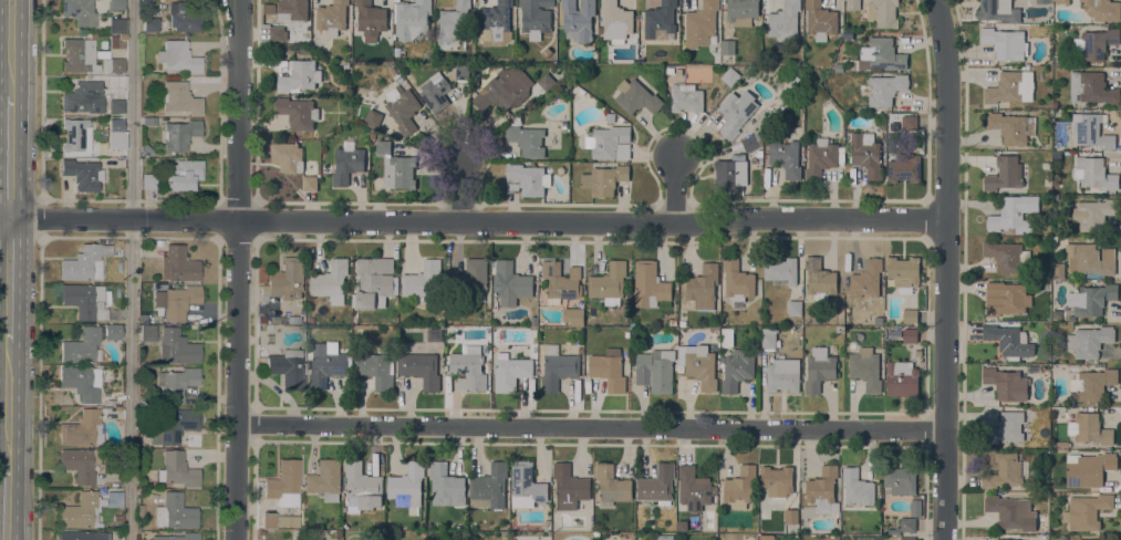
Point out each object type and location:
building: (1044, 1)
building: (1061, 1)
building: (116, 4)
building: (853, 4)
building: (269, 8)
building: (293, 9)
building: (994, 9)
building: (147, 10)
building: (1102, 10)
building: (741, 11)
building: (79, 12)
building: (883, 12)
building: (536, 14)
building: (332, 17)
building: (183, 18)
building: (412, 18)
building: (370, 19)
building: (497, 19)
building: (578, 19)
building: (660, 20)
building: (783, 20)
building: (820, 20)
building: (615, 21)
building: (700, 23)
building: (150, 24)
building: (454, 27)
building: (277, 33)
building: (122, 38)
building: (115, 42)
building: (1004, 42)
building: (1094, 43)
building: (103, 44)
building: (727, 46)
building: (882, 54)
building: (79, 55)
building: (178, 56)
building: (113, 64)
building: (838, 66)
building: (460, 71)
building: (299, 75)
building: (409, 75)
building: (730, 75)
building: (547, 81)
building: (1010, 86)
building: (1091, 87)
building: (505, 89)
building: (886, 89)
building: (435, 92)
building: (82, 96)
building: (636, 96)
building: (685, 96)
building: (178, 97)
building: (115, 106)
road: (8, 108)
building: (402, 108)
building: (298, 112)
building: (736, 112)
building: (373, 116)
building: (610, 117)
building: (148, 122)
building: (909, 122)
building: (1013, 126)
building: (1091, 131)
building: (75, 134)
building: (178, 134)
building: (116, 137)
building: (527, 139)
building: (752, 141)
building: (610, 142)
building: (383, 146)
building: (145, 149)
building: (759, 153)
building: (866, 154)
building: (288, 156)
building: (786, 157)
building: (821, 158)
building: (347, 164)
building: (904, 167)
building: (398, 170)
building: (1093, 173)
building: (82, 174)
building: (1005, 174)
building: (183, 175)
building: (730, 175)
building: (527, 179)
building: (603, 179)
building: (147, 181)
building: (310, 183)
road: (466, 189)
road: (677, 189)
building: (1093, 212)
building: (1014, 214)
road: (473, 224)
building: (158, 243)
building: (1006, 255)
building: (1090, 258)
building: (84, 262)
building: (178, 264)
road: (129, 269)
road: (236, 269)
building: (781, 269)
road: (944, 269)
building: (1059, 269)
building: (904, 271)
building: (471, 278)
building: (819, 278)
building: (287, 279)
building: (866, 279)
road: (7, 280)
building: (510, 280)
building: (737, 280)
building: (331, 281)
building: (374, 281)
building: (422, 281)
building: (561, 281)
building: (609, 282)
building: (650, 284)
building: (703, 285)
building: (1004, 298)
building: (1091, 299)
building: (84, 301)
building: (179, 301)
building: (795, 308)
building: (573, 315)
building: (910, 315)
building: (310, 320)
building: (673, 322)
building: (682, 322)
building: (112, 332)
building: (147, 332)
building: (433, 334)
building: (910, 334)
building: (726, 336)
building: (768, 337)
building: (1008, 340)
building: (1089, 341)
building: (81, 346)
building: (177, 346)
building: (533, 349)
building: (698, 364)
building: (325, 365)
building: (558, 366)
building: (422, 367)
building: (287, 368)
building: (376, 368)
building: (468, 368)
building: (609, 368)
building: (819, 368)
building: (865, 368)
building: (656, 370)
building: (736, 370)
building: (510, 372)
building: (782, 374)
building: (902, 377)
building: (81, 382)
building: (176, 383)
building: (1007, 383)
building: (1091, 384)
road: (6, 404)
building: (175, 426)
road: (590, 426)
building: (1006, 427)
building: (1089, 428)
building: (82, 429)
building: (1062, 443)
building: (80, 464)
building: (1088, 468)
building: (177, 470)
building: (1004, 471)
building: (325, 479)
building: (779, 479)
building: (899, 479)
building: (283, 484)
building: (612, 484)
building: (445, 485)
building: (527, 485)
building: (657, 485)
building: (739, 486)
building: (362, 487)
building: (407, 487)
building: (489, 487)
building: (569, 487)
building: (857, 487)
building: (694, 488)
building: (823, 490)
road: (6, 502)
building: (915, 507)
building: (86, 509)
building: (139, 510)
building: (1011, 511)
building: (1086, 511)
building: (175, 512)
building: (791, 516)
building: (117, 519)
building: (268, 520)
building: (288, 520)
building: (907, 523)
building: (377, 525)
building: (682, 525)
building: (76, 536)
building: (766, 536)
building: (179, 537)
building: (665, 537)
building: (907, 538)
building: (1007, 539)
building: (1089, 539)

